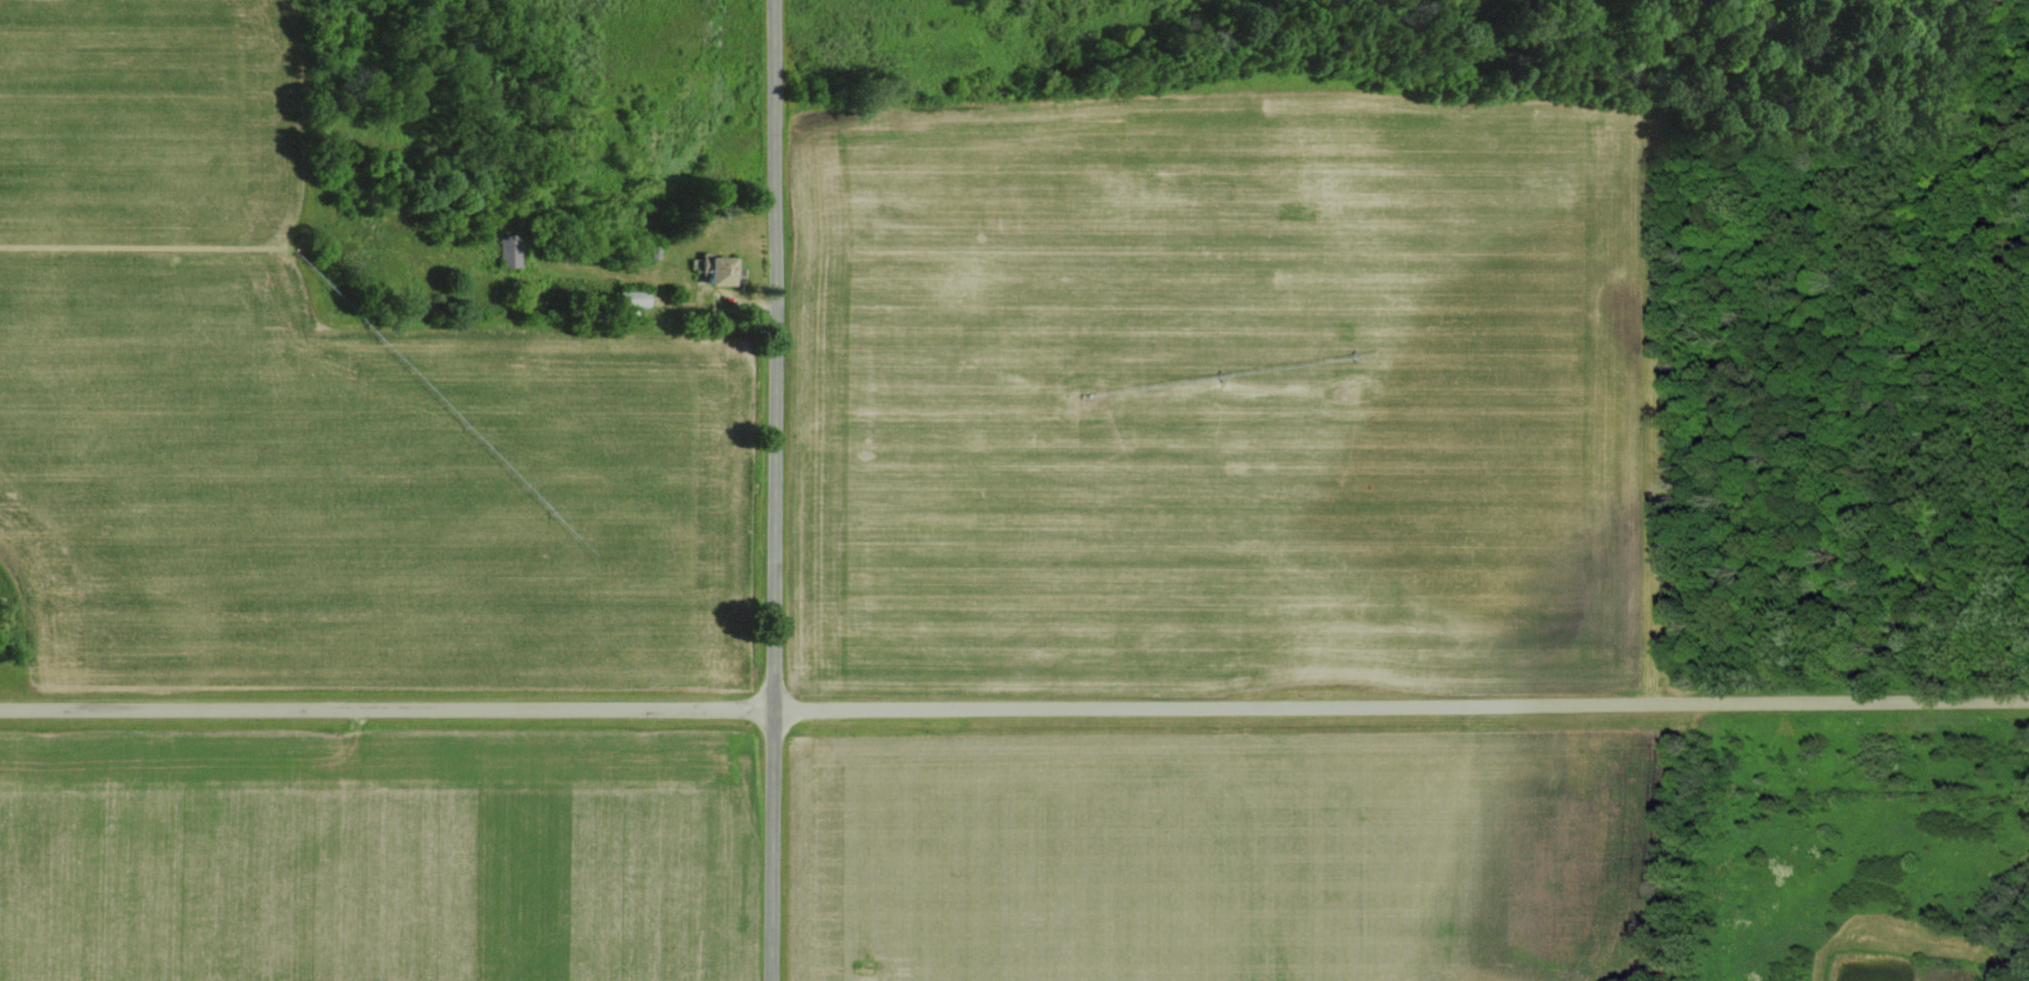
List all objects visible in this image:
building: (510, 250)
building: (714, 270)
road: (775, 490)
road: (1014, 703)

